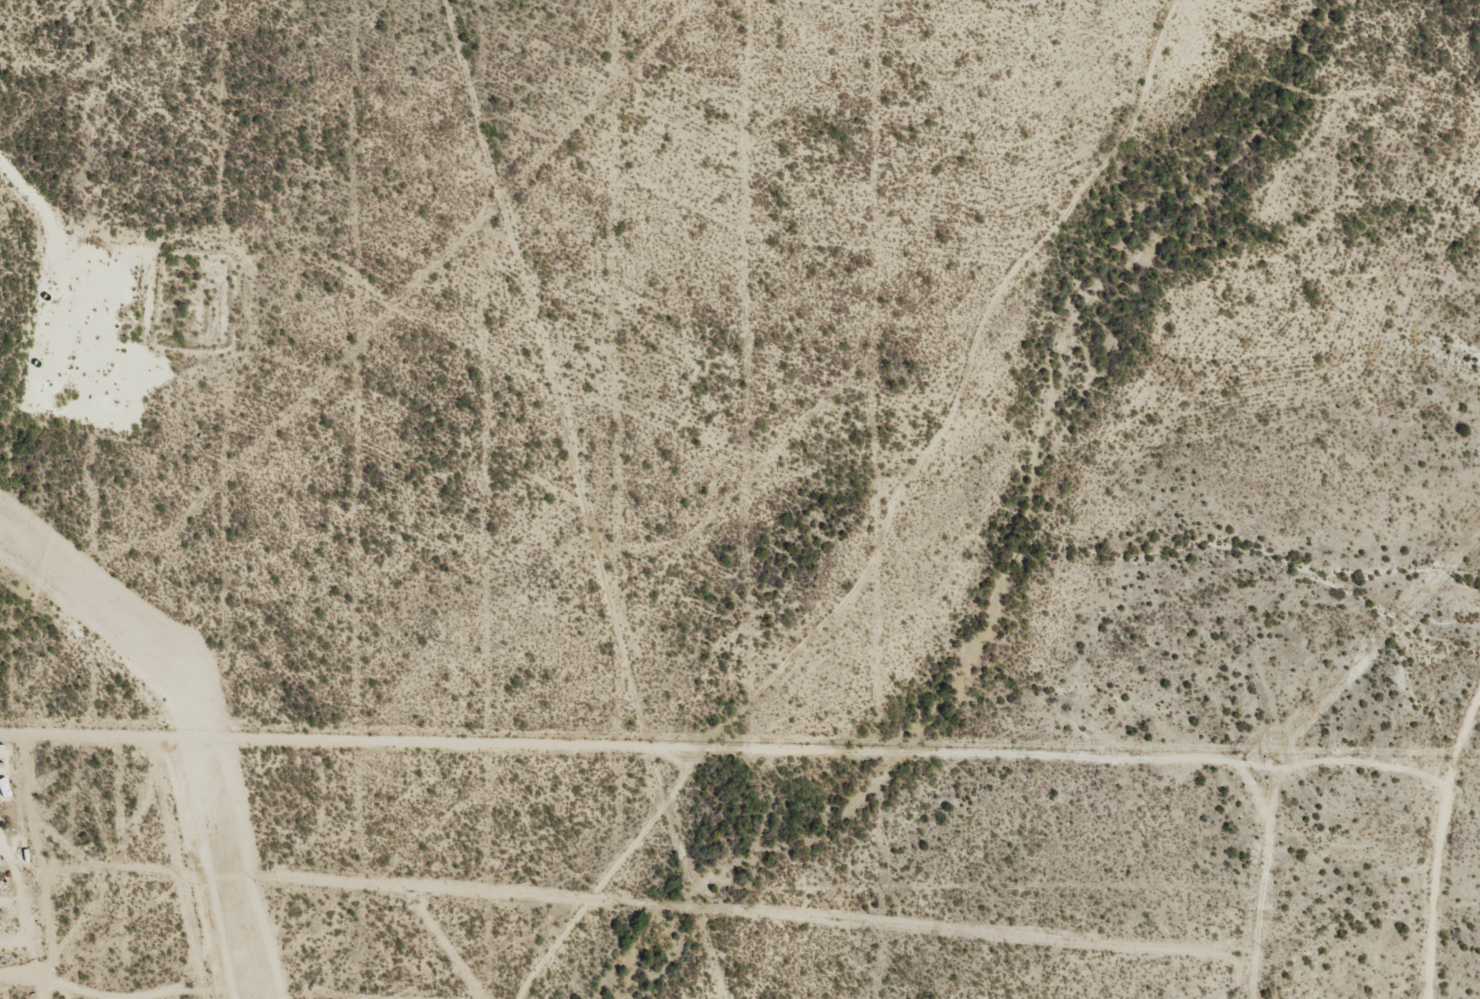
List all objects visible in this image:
road: (44, 903)

